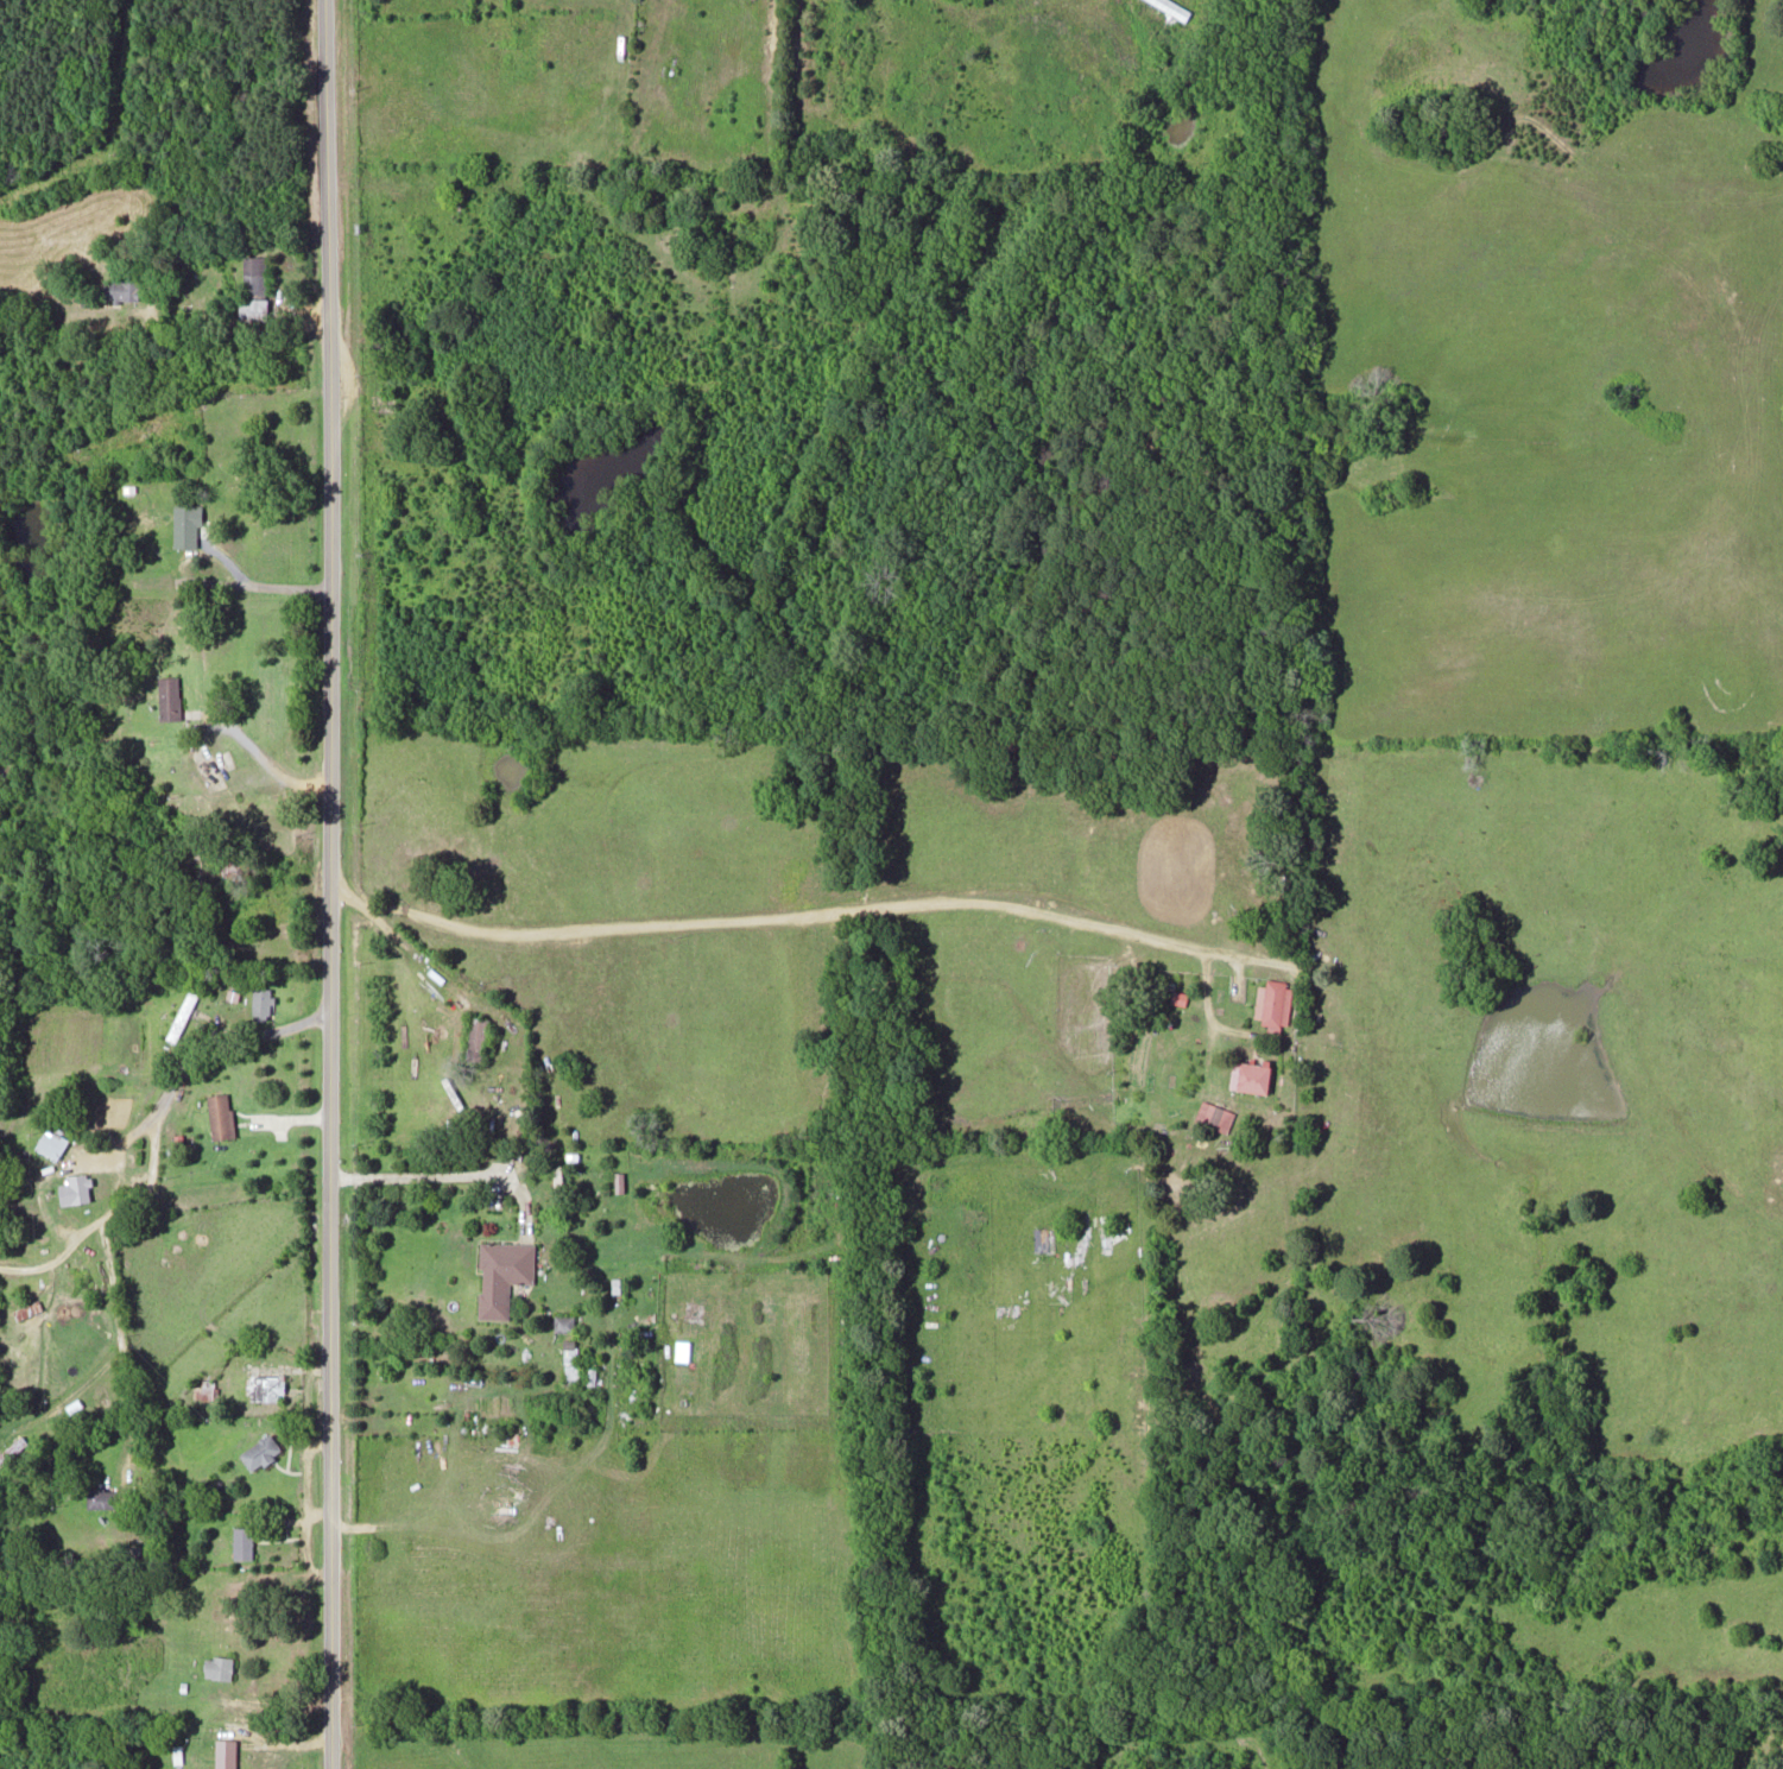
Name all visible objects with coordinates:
building: (1172, 8)
building: (252, 277)
building: (120, 289)
road: (164, 334)
building: (185, 523)
building: (169, 696)
road: (328, 884)
road: (821, 911)
building: (1269, 1000)
building: (261, 1002)
building: (181, 1013)
building: (476, 1037)
road: (176, 1068)
building: (1253, 1075)
building: (219, 1114)
building: (1212, 1114)
building: (51, 1142)
road: (426, 1171)
building: (75, 1188)
road: (56, 1255)
building: (501, 1274)
building: (80, 1277)
road: (113, 1315)
building: (563, 1322)
building: (569, 1362)
building: (263, 1386)
building: (203, 1388)
building: (11, 1448)
building: (259, 1451)
building: (99, 1497)
building: (242, 1542)
building: (217, 1666)
building: (225, 1752)

